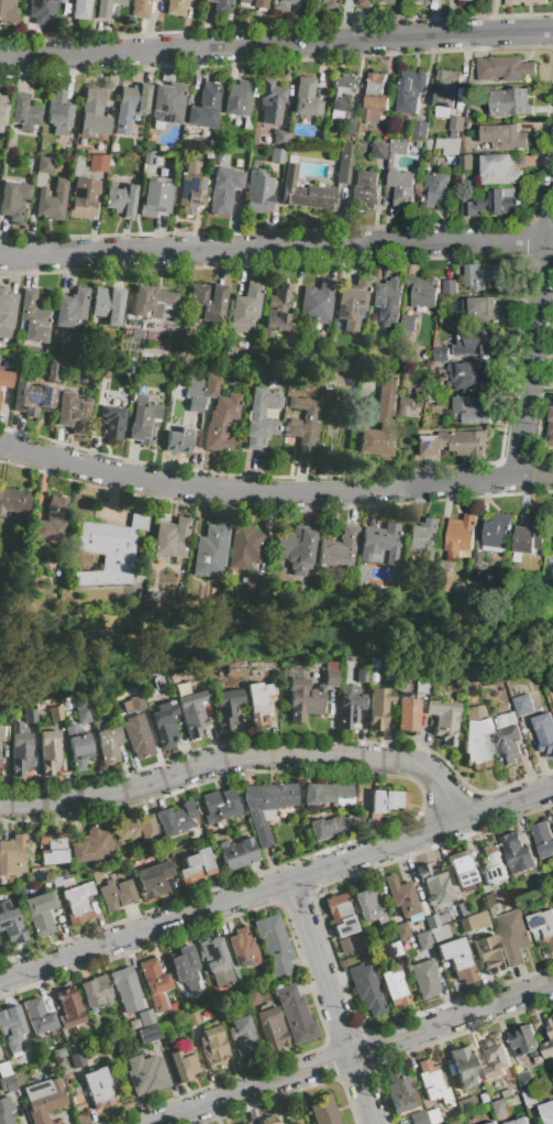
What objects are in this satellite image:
building: (471, 0)
building: (365, 2)
building: (387, 2)
building: (422, 2)
building: (526, 2)
building: (254, 3)
building: (284, 3)
building: (495, 3)
building: (330, 4)
building: (221, 6)
building: (434, 6)
building: (176, 7)
building: (109, 8)
building: (140, 8)
building: (80, 9)
building: (42, 11)
building: (8, 12)
road: (276, 43)
building: (505, 68)
building: (445, 92)
building: (411, 94)
building: (342, 95)
building: (239, 97)
building: (306, 97)
building: (375, 99)
building: (270, 101)
building: (509, 103)
building: (167, 105)
building: (130, 106)
building: (204, 106)
building: (57, 112)
building: (24, 113)
building: (93, 113)
building: (2, 114)
building: (247, 121)
building: (456, 124)
building: (351, 127)
building: (361, 128)
building: (420, 129)
building: (279, 138)
building: (504, 138)
building: (10, 141)
building: (418, 144)
building: (429, 145)
building: (118, 146)
building: (447, 146)
building: (380, 151)
building: (220, 152)
building: (396, 152)
building: (209, 153)
building: (277, 155)
building: (86, 157)
building: (146, 157)
building: (110, 161)
building: (98, 163)
building: (465, 163)
building: (44, 164)
building: (345, 164)
building: (499, 171)
building: (402, 187)
building: (191, 188)
building: (224, 188)
building: (435, 188)
building: (306, 189)
building: (365, 189)
building: (258, 192)
building: (82, 198)
building: (155, 198)
building: (13, 199)
building: (121, 199)
building: (52, 200)
building: (491, 204)
road: (276, 248)
building: (484, 276)
building: (450, 287)
building: (422, 291)
building: (152, 302)
building: (388, 302)
building: (206, 303)
building: (316, 303)
building: (351, 303)
building: (108, 304)
building: (245, 305)
building: (71, 309)
building: (277, 309)
building: (483, 310)
building: (7, 314)
building: (33, 317)
building: (449, 320)
building: (408, 323)
building: (136, 332)
road: (535, 337)
building: (476, 346)
building: (67, 347)
building: (441, 353)
building: (68, 359)
building: (181, 360)
building: (53, 368)
building: (130, 369)
building: (103, 372)
building: (472, 375)
building: (324, 378)
building: (4, 379)
building: (170, 392)
building: (193, 394)
building: (33, 399)
building: (69, 410)
building: (471, 411)
building: (219, 414)
building: (261, 417)
building: (142, 418)
building: (111, 422)
building: (332, 423)
building: (380, 423)
building: (302, 425)
building: (552, 433)
building: (178, 440)
building: (454, 444)
road: (274, 494)
building: (13, 501)
building: (49, 522)
building: (496, 533)
building: (531, 534)
building: (552, 535)
building: (423, 536)
building: (461, 537)
building: (170, 538)
building: (112, 545)
building: (379, 545)
building: (244, 546)
building: (296, 548)
building: (339, 549)
building: (210, 550)
building: (478, 570)
building: (361, 575)
building: (381, 575)
building: (442, 580)
building: (254, 582)
building: (460, 590)
building: (151, 596)
building: (372, 663)
building: (361, 675)
building: (387, 676)
building: (330, 681)
building: (421, 686)
building: (319, 690)
building: (257, 701)
building: (300, 702)
building: (132, 703)
building: (349, 705)
building: (523, 705)
building: (226, 707)
building: (378, 707)
building: (192, 712)
building: (406, 712)
building: (54, 713)
building: (29, 716)
building: (444, 720)
building: (511, 721)
building: (164, 722)
building: (499, 723)
building: (544, 732)
building: (3, 733)
building: (475, 735)
building: (137, 736)
building: (107, 740)
building: (509, 745)
building: (77, 746)
building: (20, 749)
building: (49, 752)
road: (241, 759)
building: (324, 793)
building: (387, 799)
building: (219, 805)
building: (265, 806)
building: (175, 818)
building: (332, 826)
building: (137, 829)
building: (543, 839)
building: (90, 844)
building: (51, 847)
building: (236, 853)
building: (517, 853)
building: (12, 855)
building: (493, 863)
building: (197, 865)
building: (460, 867)
building: (36, 874)
building: (96, 875)
building: (153, 879)
building: (56, 881)
road: (276, 883)
building: (433, 885)
building: (115, 893)
building: (552, 894)
building: (401, 896)
building: (500, 896)
building: (490, 899)
building: (78, 901)
building: (368, 905)
building: (462, 908)
building: (40, 913)
building: (340, 914)
building: (442, 917)
building: (478, 919)
building: (431, 921)
building: (11, 923)
building: (465, 924)
building: (542, 928)
building: (402, 929)
building: (439, 932)
building: (512, 937)
building: (423, 939)
building: (343, 945)
building: (274, 946)
building: (242, 948)
building: (396, 948)
building: (211, 953)
building: (489, 954)
building: (457, 958)
building: (185, 968)
building: (222, 975)
building: (424, 978)
building: (154, 983)
building: (394, 985)
building: (125, 989)
building: (366, 989)
building: (96, 992)
building: (251, 998)
road: (329, 1002)
building: (69, 1007)
building: (295, 1014)
building: (37, 1016)
building: (146, 1017)
building: (192, 1018)
building: (132, 1025)
building: (11, 1027)
building: (272, 1028)
building: (242, 1032)
building: (147, 1034)
building: (551, 1035)
building: (523, 1041)
building: (213, 1046)
building: (58, 1052)
road: (349, 1054)
building: (496, 1058)
building: (77, 1059)
building: (539, 1060)
building: (185, 1063)
building: (464, 1067)
building: (4, 1069)
building: (518, 1069)
building: (145, 1073)
building: (523, 1076)
building: (7, 1082)
building: (432, 1082)
building: (527, 1084)
building: (98, 1088)
building: (400, 1092)
building: (507, 1093)
building: (44, 1099)
building: (530, 1099)
building: (465, 1104)
building: (499, 1107)
building: (322, 1110)
building: (7, 1111)
building: (546, 1112)
building: (432, 1115)
building: (418, 1117)
building: (268, 1120)
building: (519, 1122)
building: (495, 1123)

